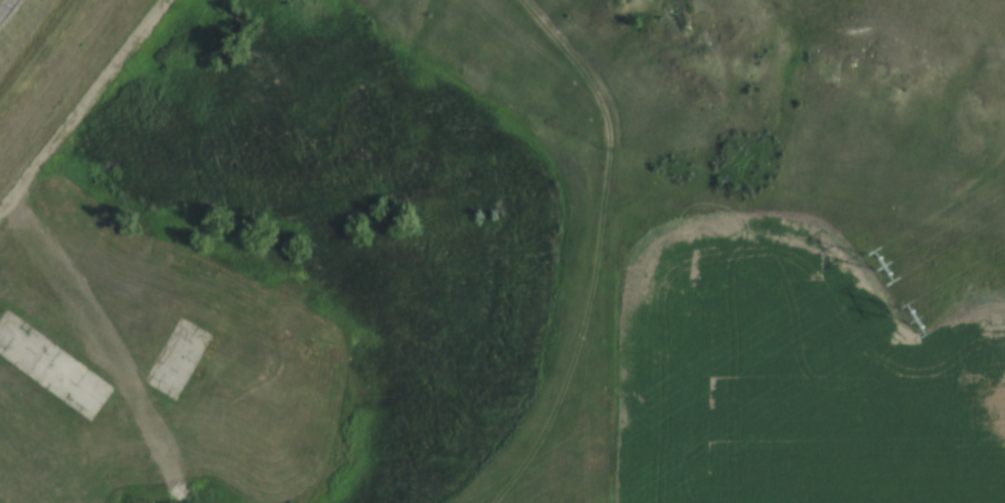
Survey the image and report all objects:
road: (11, 15)
power tower: (881, 269)
power tower: (911, 321)

